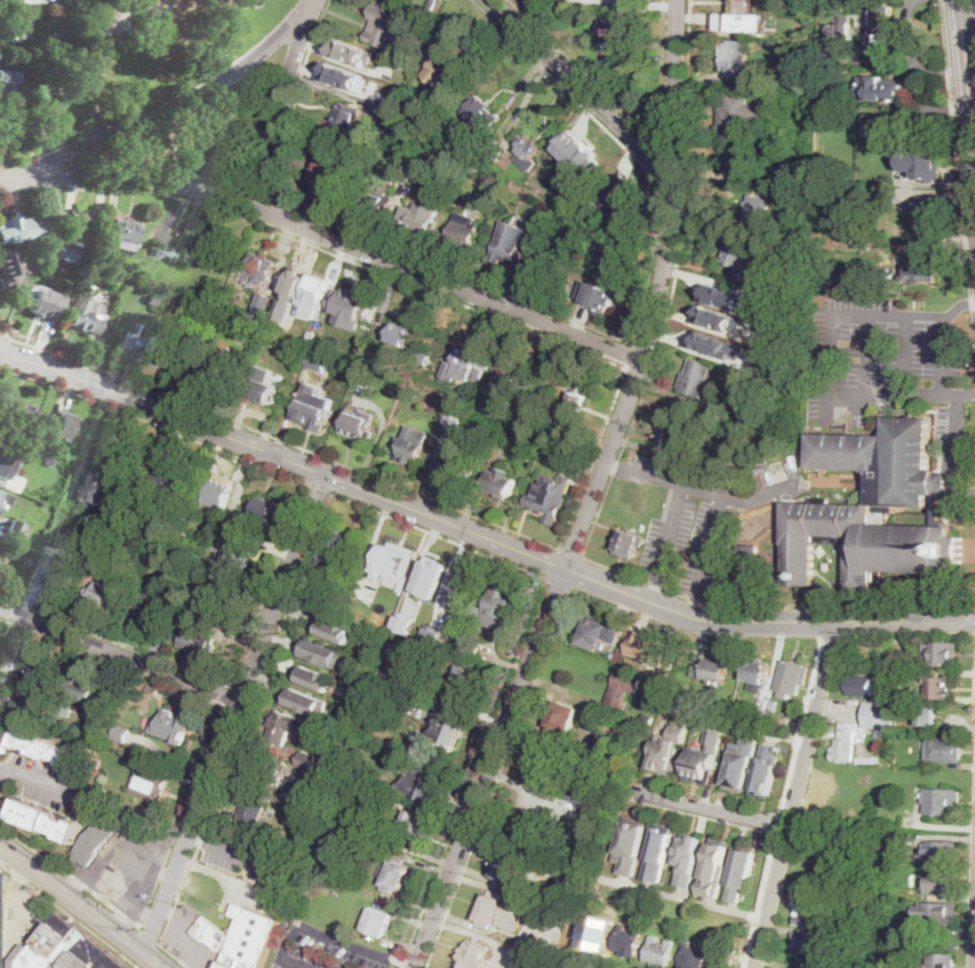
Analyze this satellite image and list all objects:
road: (972, 2)
building: (431, 5)
building: (809, 6)
building: (734, 11)
road: (973, 13)
building: (633, 16)
road: (967, 16)
building: (884, 22)
building: (12, 26)
building: (388, 26)
building: (619, 26)
building: (841, 29)
building: (353, 52)
building: (736, 58)
road: (905, 63)
building: (77, 72)
building: (442, 72)
building: (343, 74)
building: (7, 84)
road: (579, 86)
road: (966, 88)
building: (879, 89)
building: (44, 104)
road: (281, 105)
building: (374, 108)
road: (161, 110)
building: (482, 114)
building: (740, 116)
building: (346, 117)
road: (952, 122)
road: (638, 125)
building: (882, 125)
building: (5, 127)
road: (79, 134)
park: (207, 137)
building: (610, 151)
building: (574, 152)
building: (528, 153)
building: (495, 155)
building: (926, 163)
road: (661, 165)
building: (577, 169)
building: (404, 173)
building: (333, 177)
building: (881, 179)
building: (905, 183)
building: (785, 191)
building: (376, 202)
building: (622, 203)
building: (758, 208)
building: (557, 210)
building: (928, 212)
building: (421, 215)
building: (586, 228)
building: (14, 230)
building: (464, 230)
building: (126, 234)
road: (329, 234)
building: (510, 243)
road: (944, 245)
road: (321, 246)
building: (61, 248)
power tower: (153, 254)
building: (208, 254)
building: (738, 254)
building: (613, 255)
road: (954, 259)
road: (946, 262)
building: (542, 266)
building: (920, 267)
building: (262, 268)
building: (8, 269)
road: (968, 270)
building: (61, 277)
building: (723, 295)
building: (315, 296)
building: (597, 296)
building: (152, 299)
road: (971, 302)
building: (40, 304)
building: (350, 305)
building: (261, 307)
road: (958, 307)
building: (82, 317)
building: (719, 318)
road: (566, 319)
road: (973, 320)
road: (3, 334)
building: (400, 334)
building: (765, 339)
building: (713, 343)
road: (3, 348)
building: (160, 352)
road: (907, 356)
road: (943, 357)
road: (632, 358)
building: (424, 359)
road: (869, 359)
building: (319, 360)
building: (467, 360)
building: (554, 366)
building: (217, 369)
building: (366, 376)
building: (698, 378)
building: (509, 382)
building: (264, 390)
building: (407, 395)
road: (967, 395)
building: (801, 396)
building: (744, 400)
building: (792, 402)
building: (574, 403)
road: (840, 404)
building: (315, 408)
building: (20, 412)
building: (359, 424)
building: (454, 424)
building: (59, 425)
building: (669, 432)
road: (276, 438)
building: (413, 443)
building: (538, 443)
building: (516, 450)
building: (545, 450)
building: (665, 450)
building: (8, 458)
building: (574, 458)
building: (777, 459)
building: (454, 461)
building: (760, 462)
road: (615, 468)
building: (763, 470)
road: (612, 474)
building: (174, 475)
road: (338, 478)
building: (503, 482)
building: (103, 489)
road: (320, 489)
road: (966, 493)
building: (219, 494)
road: (593, 494)
road: (715, 494)
building: (551, 498)
building: (4, 501)
building: (858, 505)
building: (265, 509)
building: (228, 521)
road: (409, 523)
building: (247, 525)
building: (14, 530)
building: (135, 531)
road: (478, 535)
road: (671, 535)
building: (630, 543)
road: (712, 546)
building: (354, 547)
road: (284, 548)
power tower: (48, 552)
road: (572, 553)
building: (238, 555)
building: (20, 556)
building: (205, 562)
building: (748, 564)
building: (829, 564)
building: (397, 567)
building: (61, 575)
building: (430, 577)
road: (560, 584)
building: (460, 587)
road: (655, 591)
building: (106, 593)
building: (223, 599)
building: (503, 606)
road: (694, 606)
building: (150, 608)
building: (336, 629)
building: (598, 632)
building: (434, 633)
building: (322, 639)
building: (375, 640)
building: (199, 642)
building: (353, 645)
building: (471, 647)
road: (119, 653)
building: (323, 653)
building: (633, 653)
building: (941, 653)
building: (613, 655)
building: (904, 657)
building: (427, 661)
building: (757, 670)
building: (381, 671)
building: (712, 671)
building: (41, 676)
building: (315, 677)
building: (792, 678)
road: (169, 684)
building: (466, 684)
building: (860, 685)
building: (623, 686)
building: (306, 687)
building: (938, 687)
building: (151, 688)
building: (80, 693)
building: (379, 693)
building: (893, 694)
building: (670, 696)
building: (910, 697)
building: (307, 700)
building: (407, 704)
building: (774, 704)
road: (233, 712)
building: (665, 714)
building: (760, 714)
building: (880, 714)
building: (927, 715)
road: (974, 716)
building: (695, 717)
building: (563, 719)
building: (648, 719)
building: (381, 722)
building: (172, 725)
building: (628, 726)
building: (284, 728)
building: (449, 730)
building: (6, 732)
building: (121, 734)
building: (891, 736)
building: (622, 738)
building: (846, 741)
building: (47, 748)
building: (669, 749)
building: (943, 750)
building: (886, 755)
building: (705, 758)
building: (868, 759)
building: (308, 760)
building: (740, 764)
building: (544, 769)
building: (766, 769)
building: (271, 772)
building: (570, 772)
road: (500, 778)
parking lot: (44, 783)
building: (148, 784)
building: (423, 784)
road: (43, 786)
road: (796, 793)
building: (579, 795)
building: (941, 800)
building: (254, 805)
building: (369, 808)
road: (710, 808)
building: (46, 819)
building: (896, 821)
building: (888, 825)
building: (413, 826)
building: (306, 827)
road: (198, 836)
building: (888, 839)
building: (96, 841)
building: (631, 844)
building: (659, 852)
building: (940, 852)
road: (113, 853)
road: (248, 856)
parking lot: (249, 856)
building: (688, 858)
parking lot: (128, 863)
building: (507, 866)
building: (714, 867)
building: (740, 872)
building: (395, 875)
road: (71, 876)
building: (822, 882)
building: (940, 882)
road: (128, 895)
building: (880, 902)
building: (649, 903)
road: (83, 906)
road: (140, 910)
building: (500, 912)
building: (937, 913)
building: (807, 914)
building: (42, 915)
road: (68, 915)
building: (561, 917)
building: (845, 918)
building: (376, 921)
building: (863, 924)
building: (892, 924)
road: (311, 929)
building: (595, 933)
building: (211, 934)
road: (149, 937)
building: (251, 938)
building: (628, 941)
building: (812, 941)
building: (64, 949)
parking lot: (324, 949)
building: (660, 951)
road: (173, 955)
building: (474, 955)
building: (695, 955)
building: (725, 957)
building: (940, 960)
road: (402, 961)

